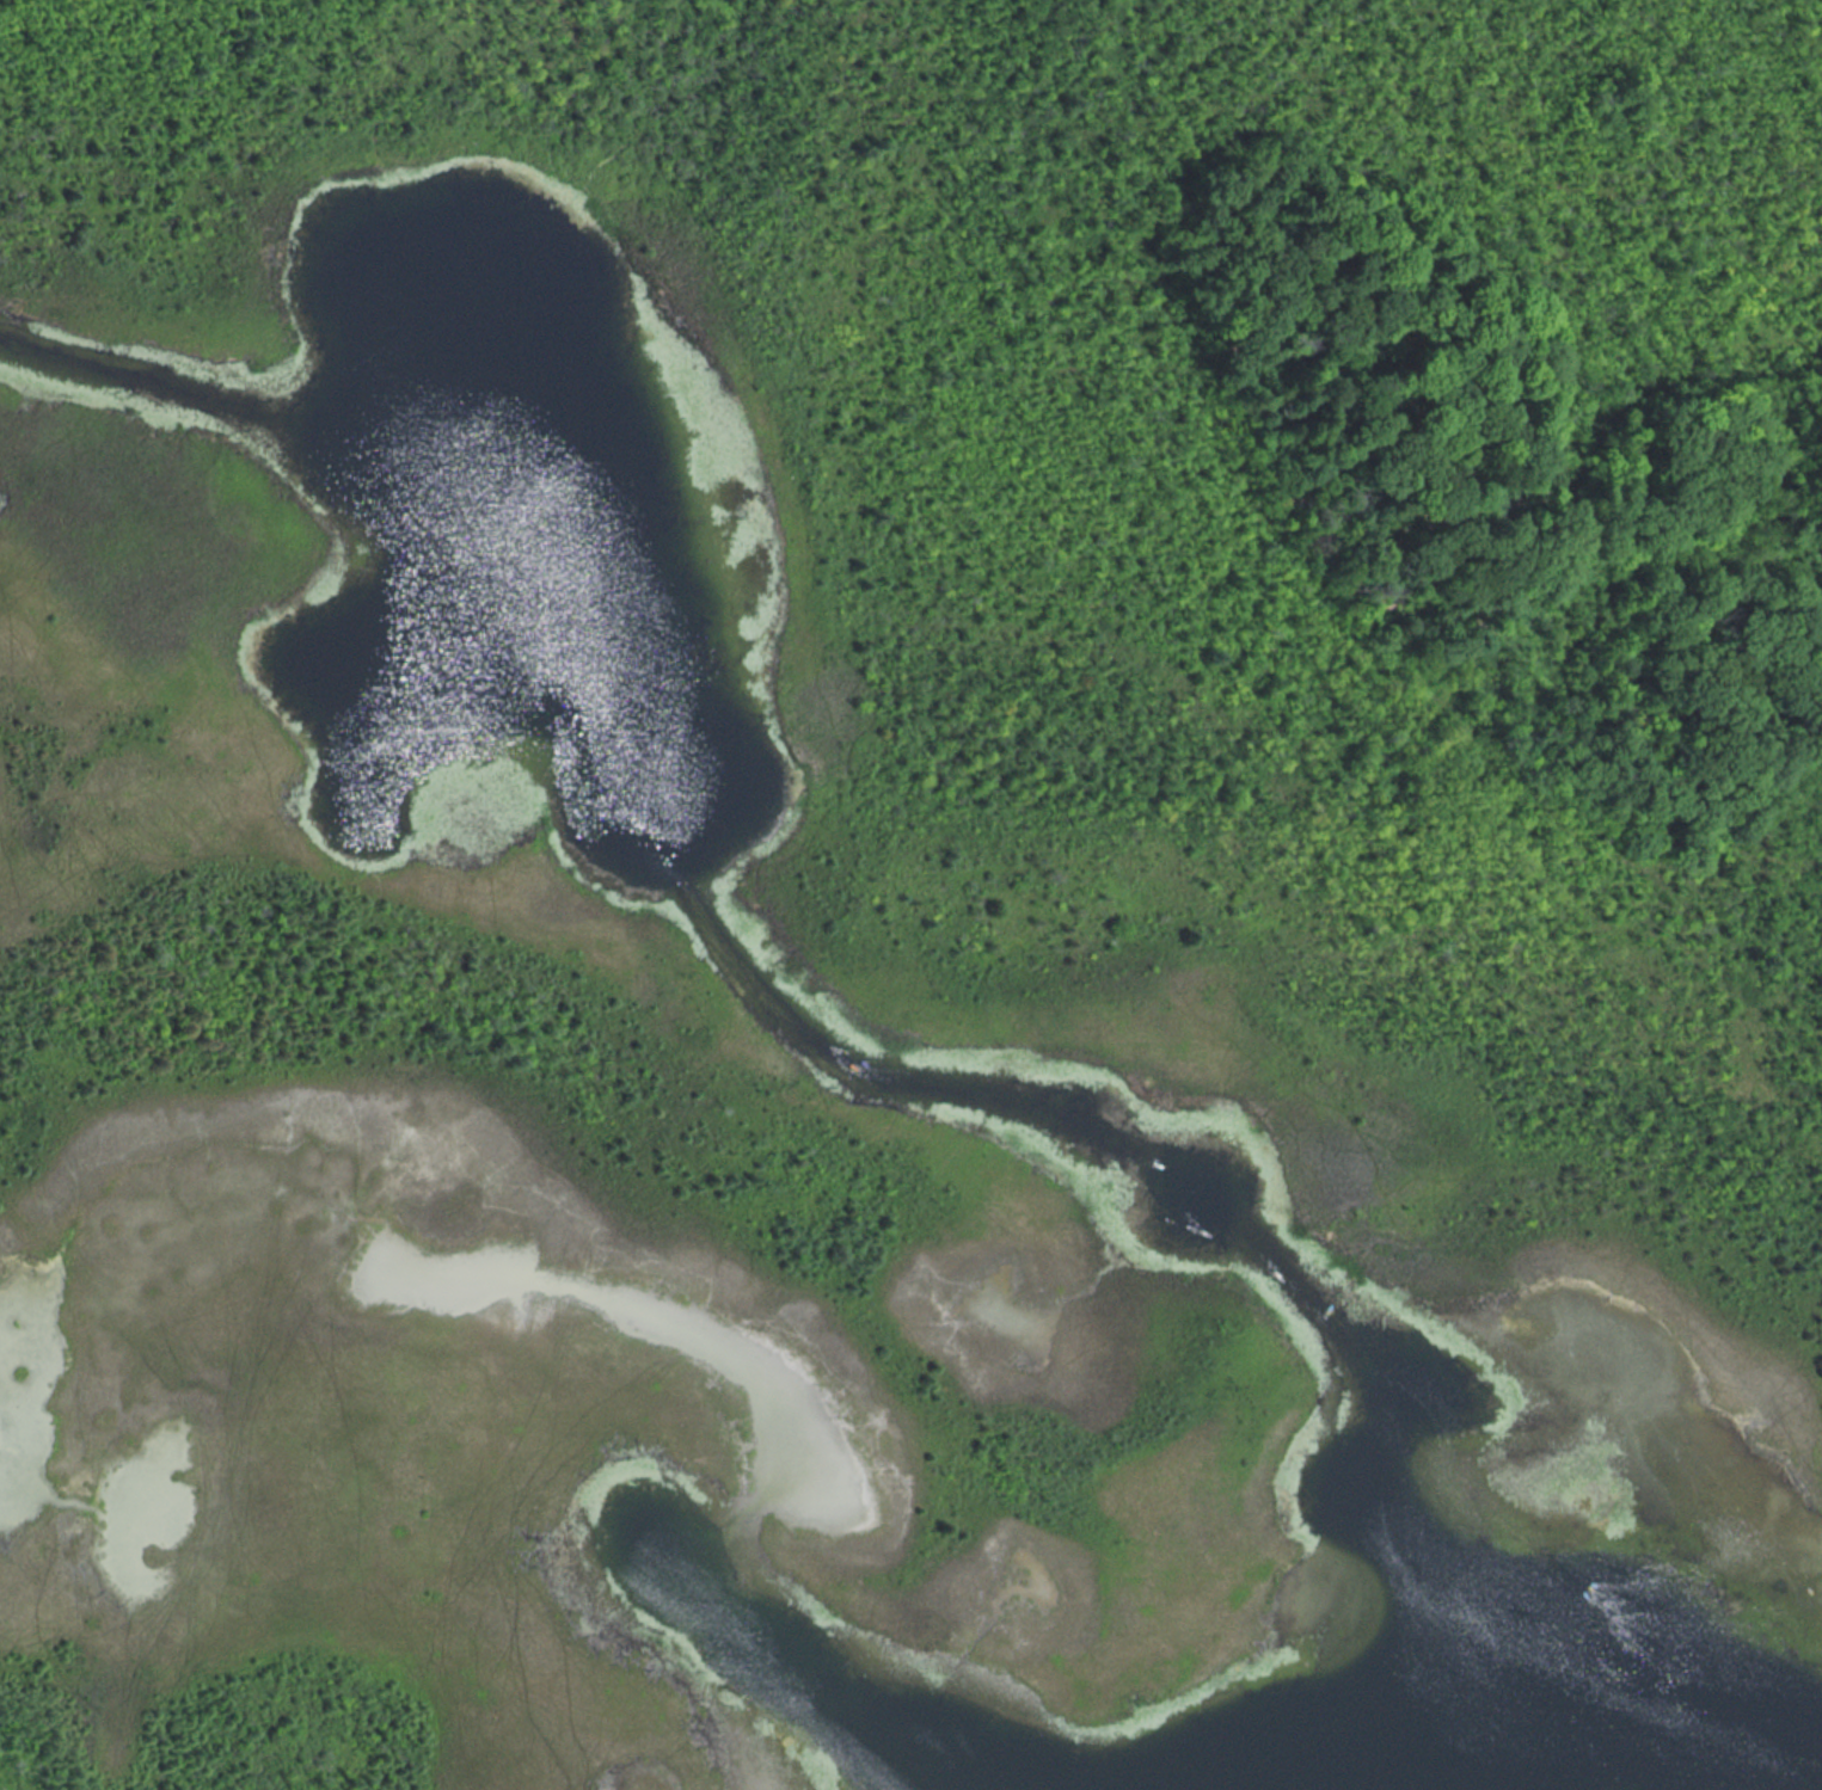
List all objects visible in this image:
road: (355, 56)
river: (121, 380)
park: (910, 894)
river: (1019, 1105)

